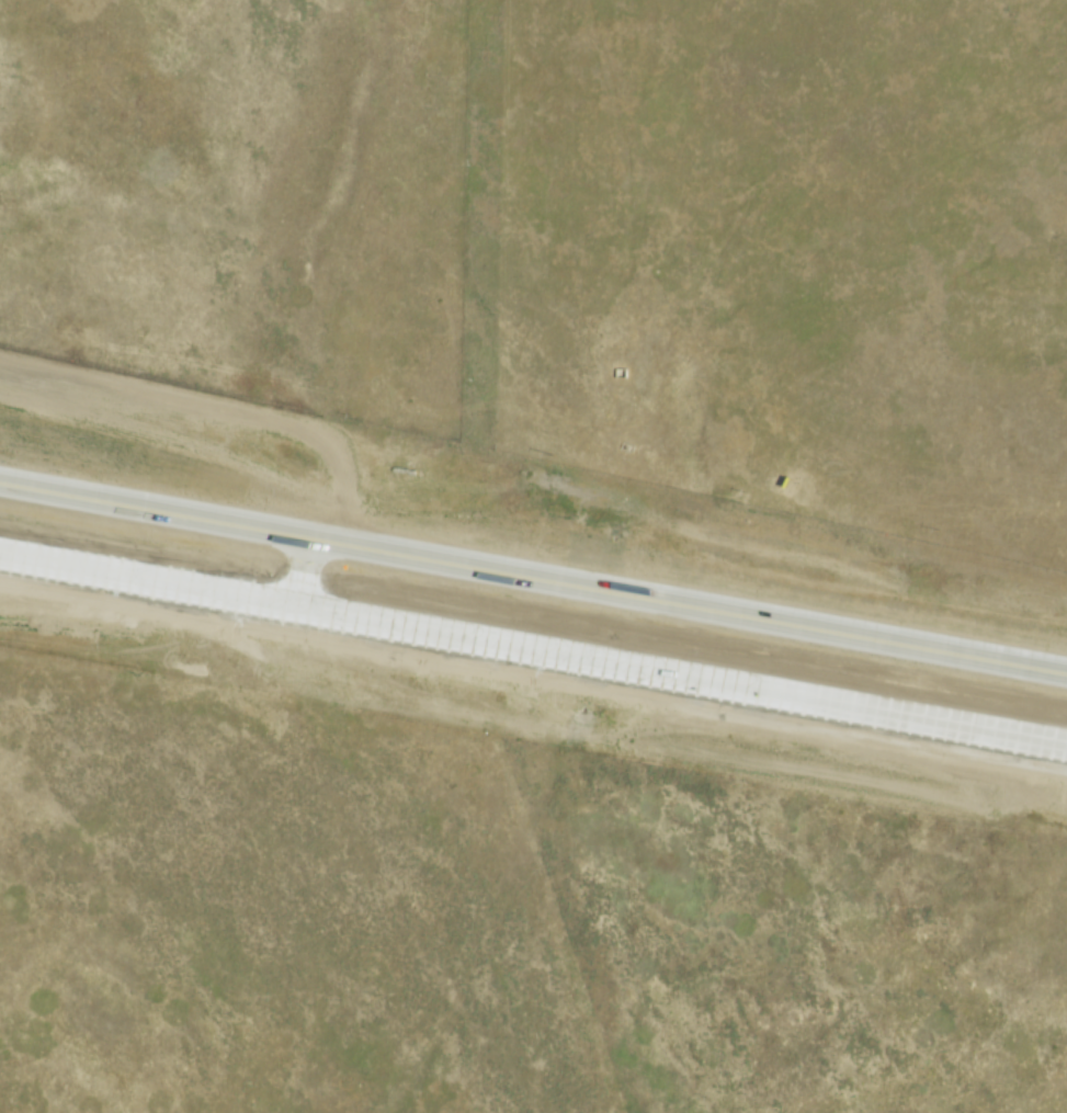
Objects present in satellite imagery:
road: (296, 572)
road: (533, 582)
road: (533, 646)

